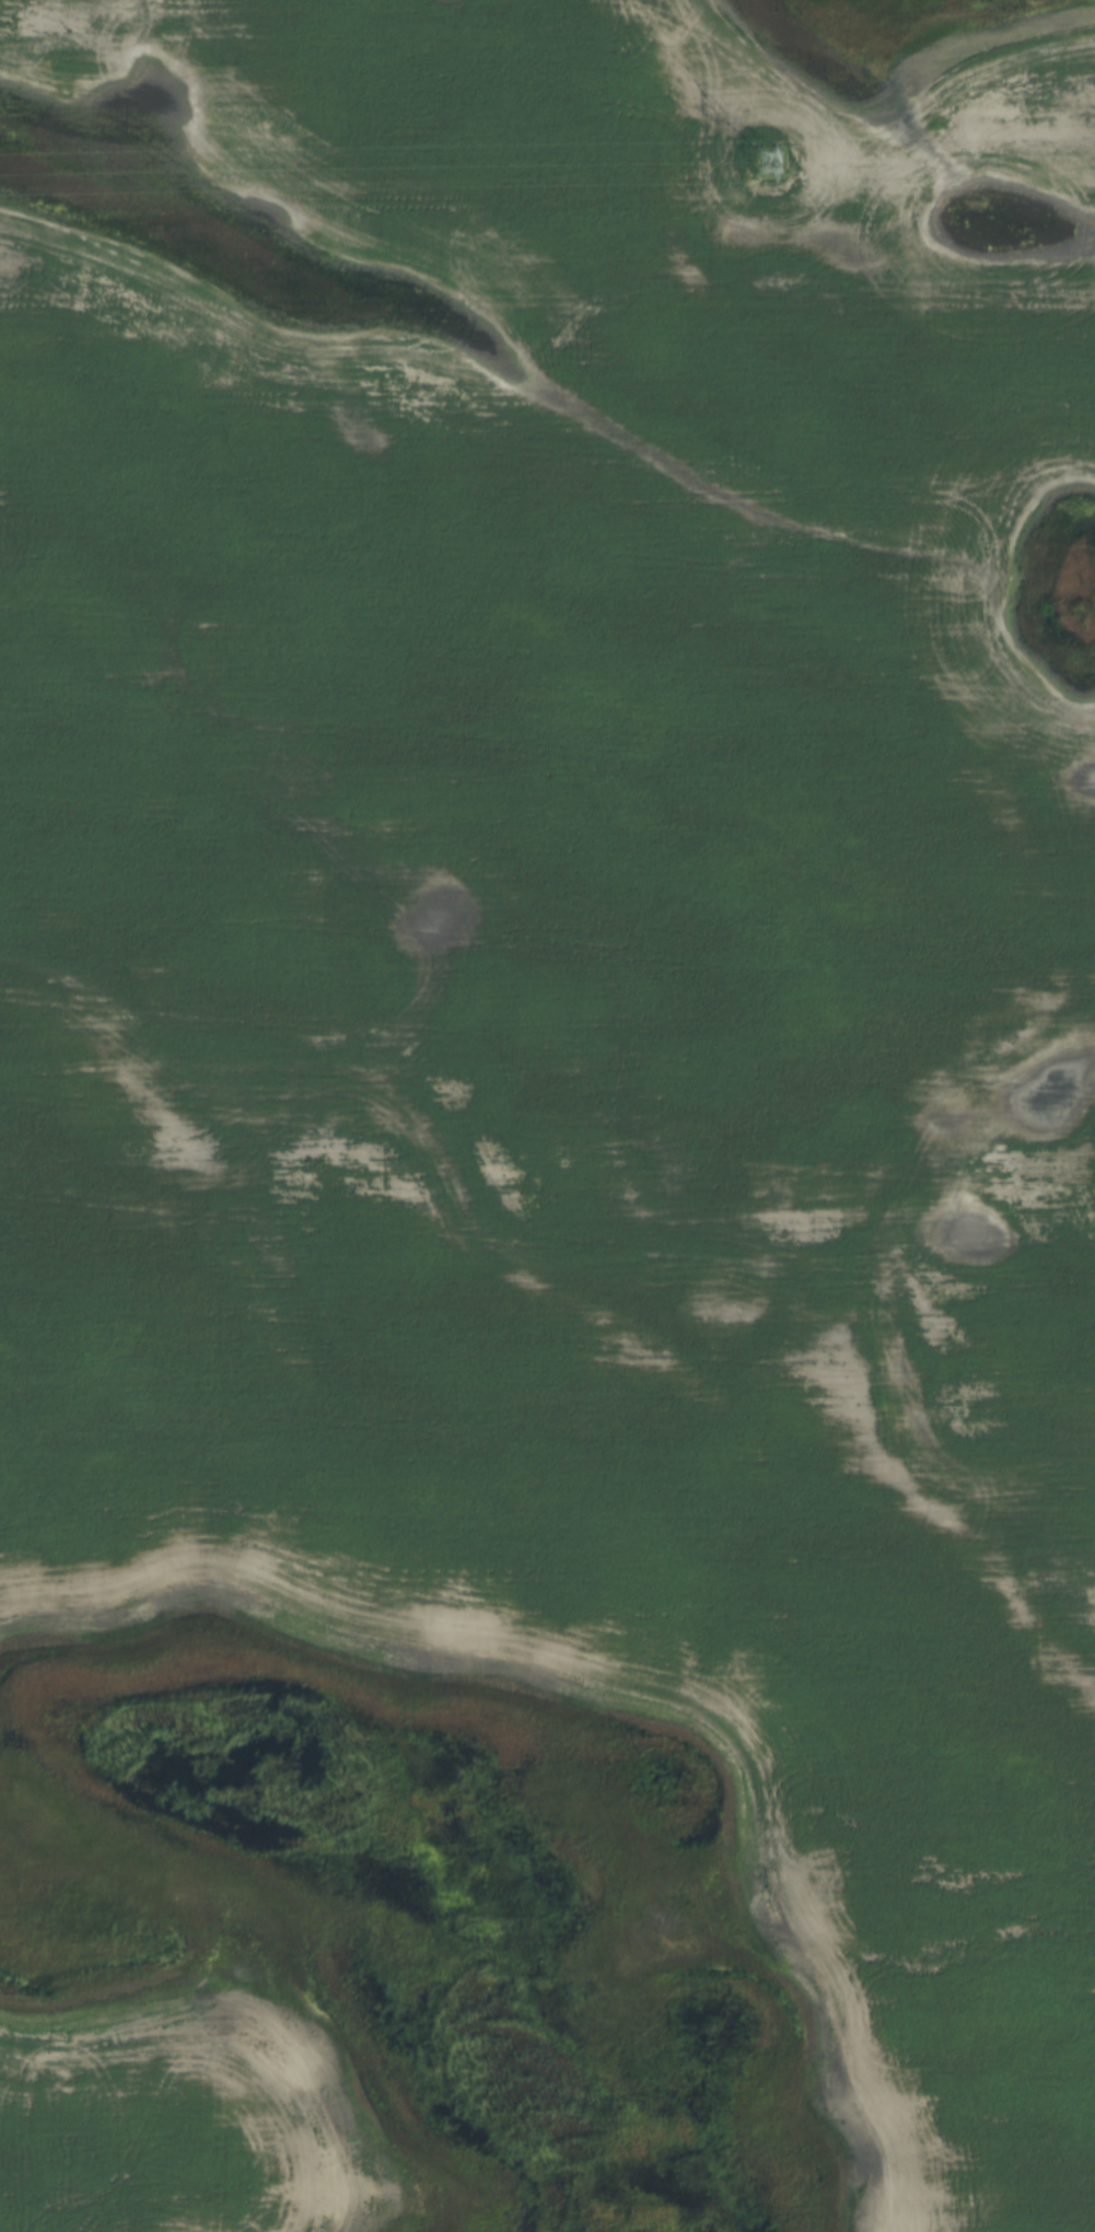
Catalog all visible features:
power tower: (767, 161)

